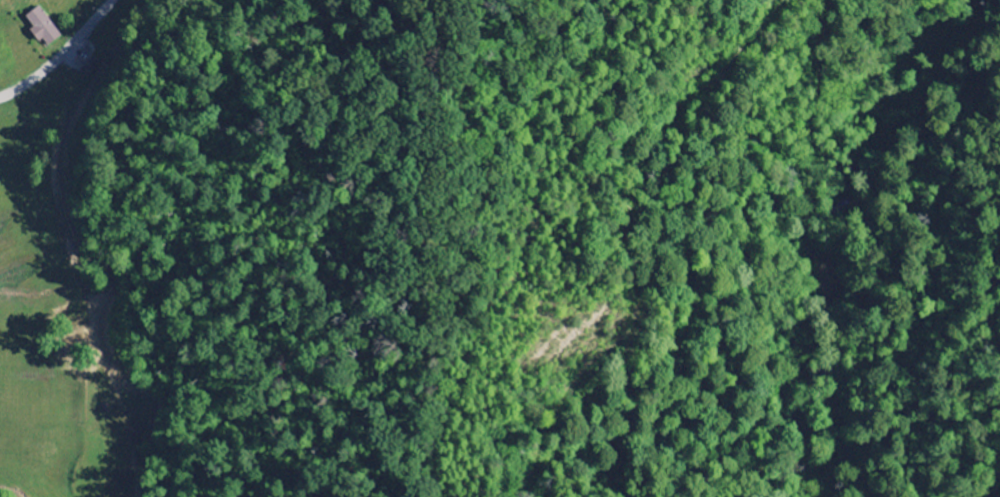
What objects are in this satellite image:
building: (42, 28)
road: (58, 54)

